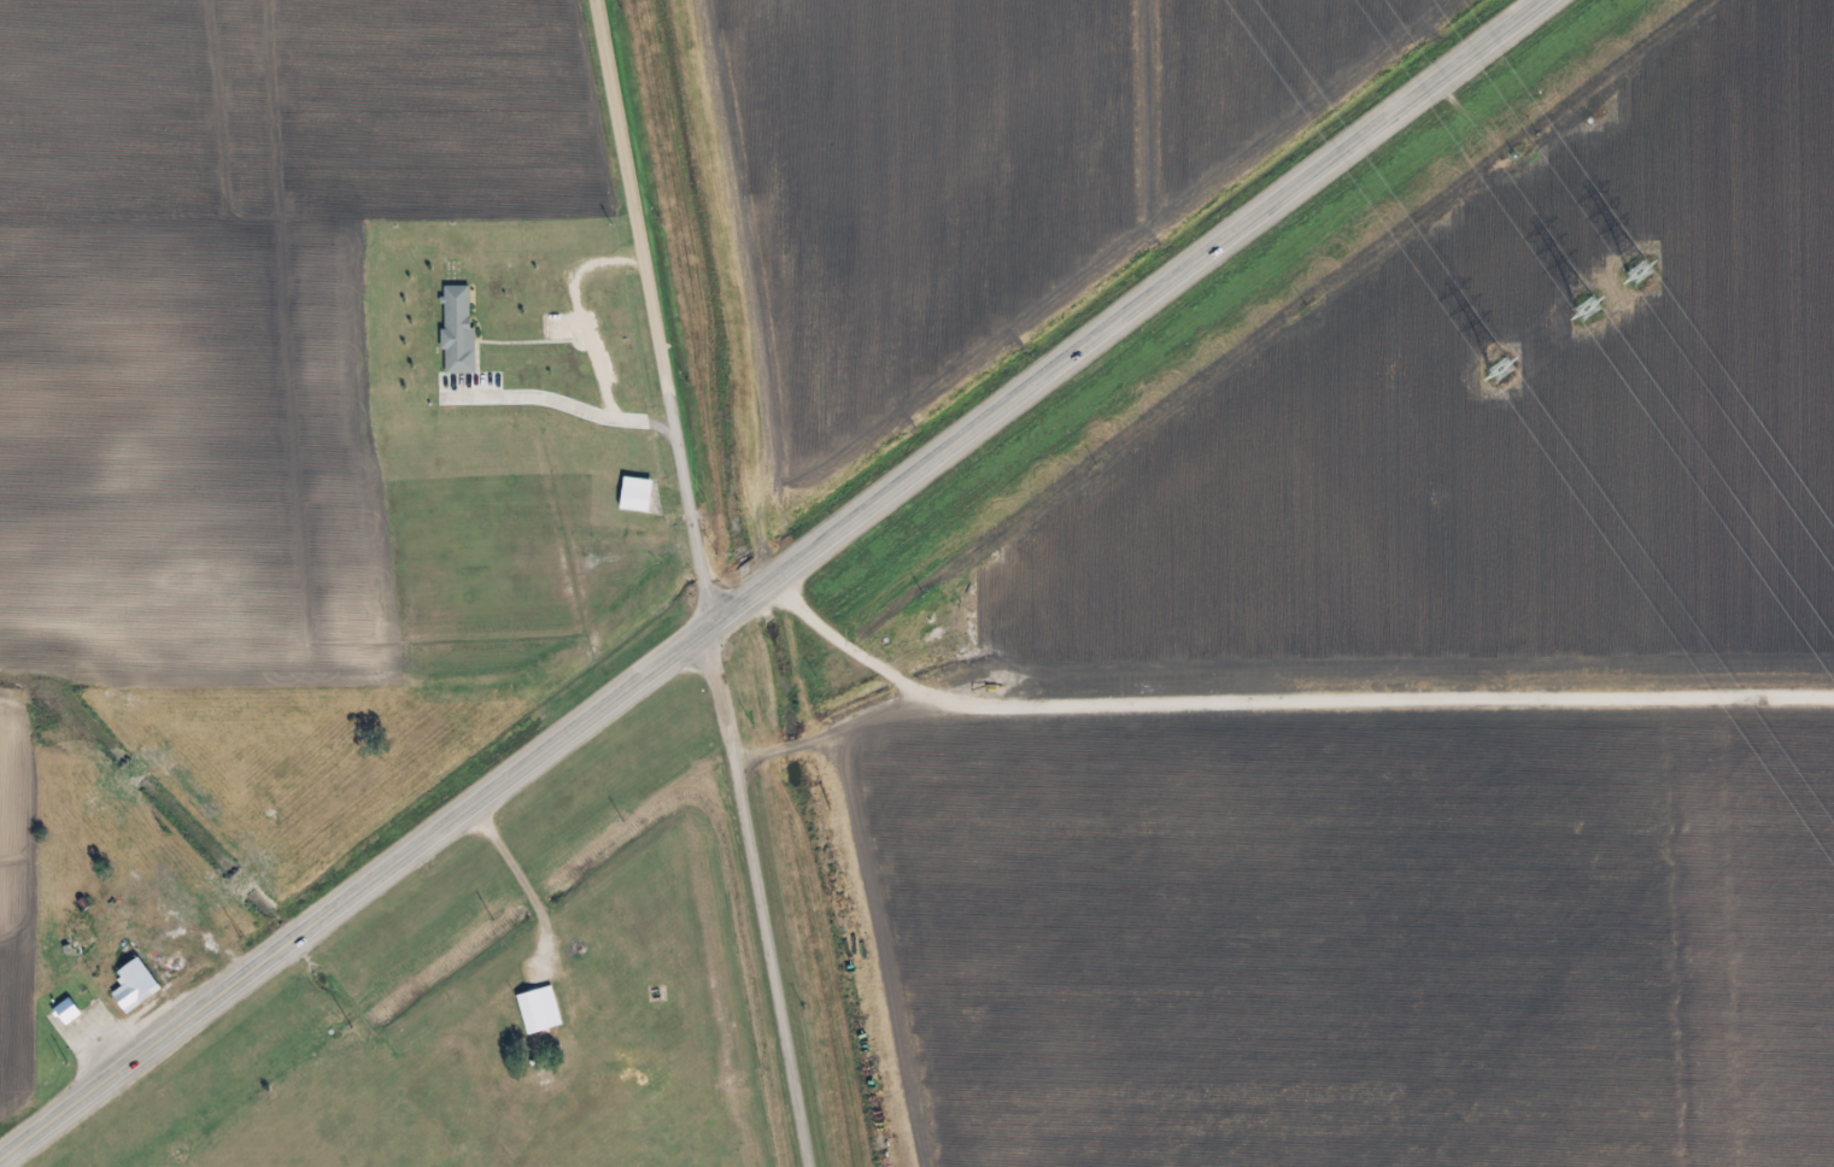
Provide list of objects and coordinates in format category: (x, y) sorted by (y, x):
power tower: (1645, 272)
power tower: (1589, 311)
building: (461, 323)
power tower: (1502, 374)
building: (639, 495)
road: (766, 559)
road: (715, 582)
building: (137, 986)
building: (64, 1007)
building: (543, 1011)

